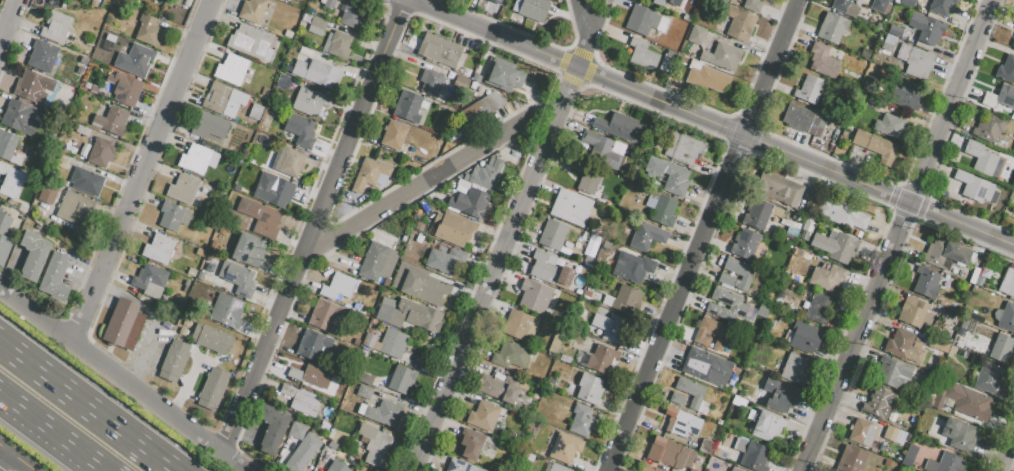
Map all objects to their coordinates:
building: (673, 2)
building: (905, 2)
building: (328, 4)
building: (752, 5)
building: (878, 5)
building: (942, 6)
building: (844, 7)
building: (533, 9)
building: (252, 10)
building: (352, 14)
road: (597, 19)
building: (645, 20)
road: (9, 22)
building: (737, 24)
building: (316, 25)
building: (1013, 25)
building: (55, 26)
building: (832, 28)
building: (926, 28)
building: (149, 30)
building: (895, 30)
road: (587, 34)
building: (696, 34)
building: (250, 41)
road: (782, 42)
building: (888, 42)
building: (338, 43)
building: (1012, 44)
building: (439, 50)
building: (643, 54)
building: (42, 55)
building: (723, 56)
building: (135, 59)
building: (823, 60)
building: (667, 61)
building: (919, 63)
building: (231, 69)
building: (1006, 69)
building: (316, 72)
building: (504, 77)
building: (708, 78)
building: (283, 80)
building: (431, 80)
road: (570, 85)
building: (32, 86)
building: (125, 88)
building: (870, 88)
building: (810, 89)
building: (905, 94)
building: (217, 97)
building: (999, 97)
building: (493, 100)
building: (309, 101)
road: (661, 102)
building: (872, 105)
building: (407, 106)
building: (476, 109)
building: (255, 111)
building: (19, 117)
building: (111, 120)
building: (804, 121)
road: (542, 123)
building: (209, 126)
building: (891, 126)
building: (621, 127)
building: (988, 127)
building: (300, 129)
road: (747, 130)
building: (393, 134)
building: (7, 144)
building: (876, 145)
building: (682, 148)
building: (601, 149)
building: (101, 151)
building: (981, 158)
building: (198, 159)
building: (287, 161)
building: (59, 164)
road: (143, 172)
building: (369, 173)
building: (586, 174)
building: (484, 175)
building: (673, 178)
building: (87, 179)
building: (11, 182)
building: (974, 187)
road: (416, 188)
building: (182, 189)
building: (777, 189)
building: (274, 192)
building: (48, 193)
building: (469, 202)
building: (570, 207)
building: (74, 208)
building: (661, 208)
building: (757, 213)
building: (841, 213)
building: (173, 215)
building: (259, 217)
road: (962, 224)
road: (314, 227)
building: (453, 228)
building: (552, 234)
road: (898, 235)
building: (646, 236)
building: (4, 238)
building: (745, 244)
building: (835, 245)
building: (158, 247)
building: (249, 250)
building: (33, 255)
building: (945, 255)
building: (444, 260)
building: (377, 262)
building: (629, 266)
building: (550, 270)
building: (736, 273)
building: (827, 276)
building: (55, 277)
building: (237, 278)
building: (149, 280)
building: (926, 283)
building: (422, 284)
building: (1007, 284)
building: (338, 287)
road: (489, 287)
building: (534, 295)
building: (626, 298)
building: (734, 304)
building: (816, 307)
building: (226, 311)
building: (914, 312)
building: (408, 314)
building: (323, 315)
building: (1005, 317)
road: (668, 322)
building: (964, 322)
building: (516, 324)
building: (122, 325)
building: (618, 330)
building: (712, 333)
building: (804, 336)
building: (211, 338)
building: (369, 340)
building: (392, 343)
building: (935, 344)
building: (312, 345)
building: (903, 347)
parking lot: (152, 348)
building: (1000, 348)
building: (952, 349)
building: (364, 355)
building: (510, 355)
building: (602, 359)
building: (174, 360)
building: (671, 366)
building: (707, 367)
building: (794, 368)
building: (892, 373)
building: (311, 375)
building: (988, 377)
building: (365, 379)
building: (401, 379)
road: (122, 380)
building: (212, 388)
building: (589, 388)
building: (498, 389)
building: (363, 391)
building: (693, 394)
building: (779, 395)
building: (677, 399)
building: (302, 400)
building: (962, 400)
building: (878, 403)
road: (85, 407)
building: (381, 413)
building: (483, 416)
building: (582, 421)
building: (681, 422)
building: (913, 422)
building: (767, 425)
building: (271, 429)
building: (297, 431)
road: (51, 432)
building: (861, 432)
building: (957, 435)
building: (470, 443)
building: (374, 444)
building: (565, 448)
building: (910, 452)
building: (303, 453)
building: (331, 453)
building: (669, 453)
building: (753, 454)
road: (1007, 455)
road: (16, 458)
road: (4, 459)
building: (850, 459)
building: (887, 462)
building: (906, 462)
building: (944, 463)
building: (460, 466)
building: (338, 468)
building: (557, 468)
building: (647, 469)
building: (734, 469)
building: (692, 470)

